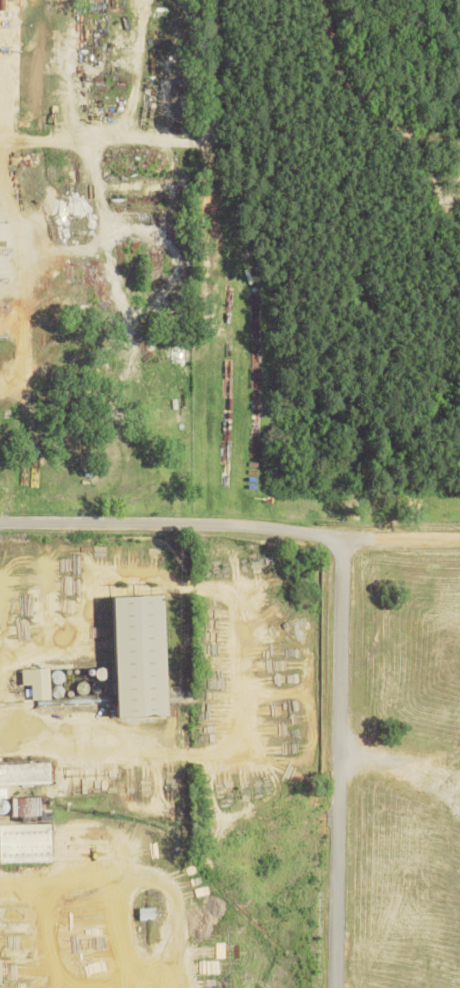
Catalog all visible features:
road: (222, 523)
building: (41, 681)
road: (347, 762)
building: (27, 772)
building: (33, 805)

